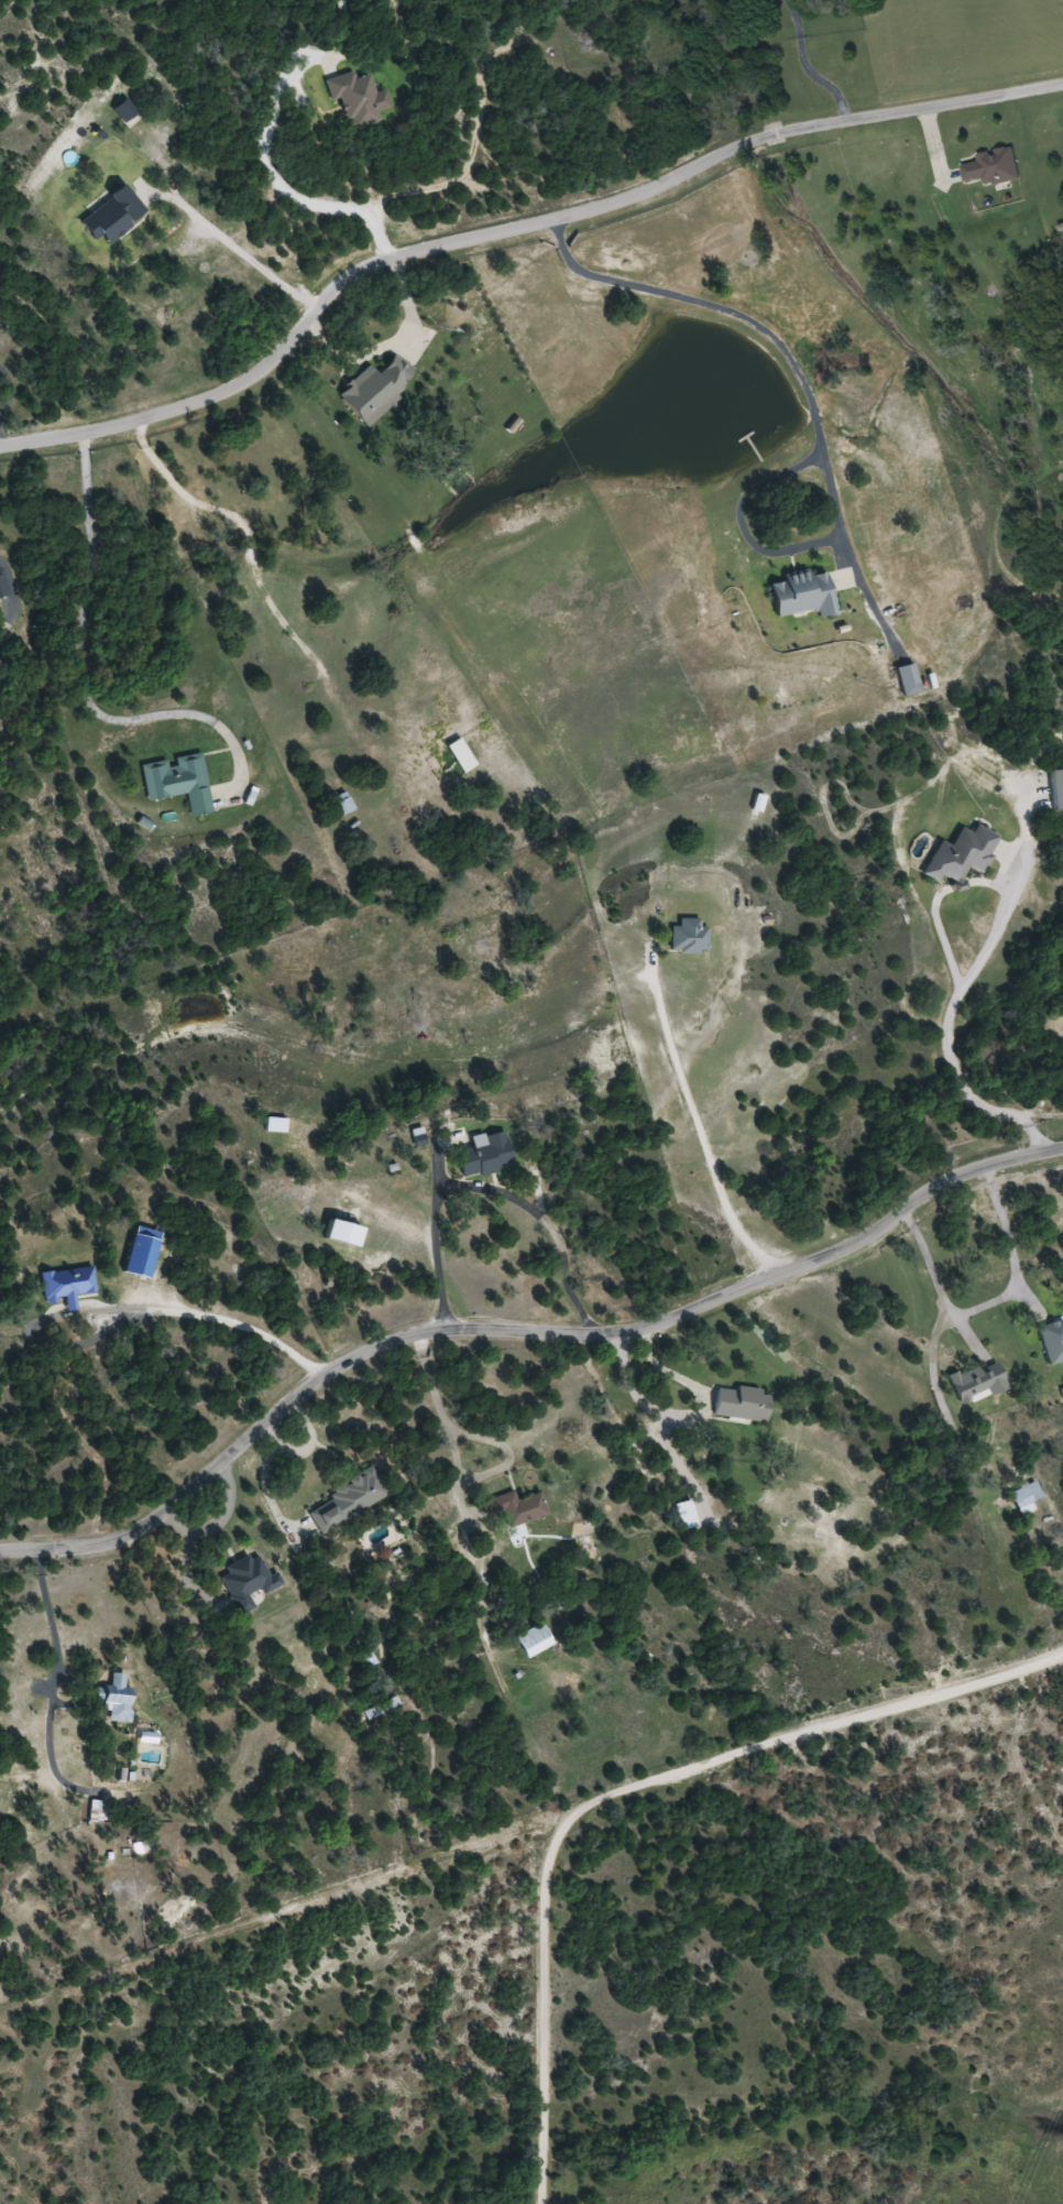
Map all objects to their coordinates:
road: (1024, 42)
building: (353, 98)
building: (123, 111)
building: (991, 167)
road: (285, 174)
building: (109, 216)
road: (512, 225)
road: (241, 240)
building: (374, 388)
road: (812, 412)
building: (2, 587)
building: (801, 593)
road: (89, 645)
building: (906, 678)
building: (177, 781)
building: (341, 803)
building: (687, 936)
road: (697, 1123)
building: (483, 1154)
road: (487, 1188)
building: (140, 1252)
building: (65, 1285)
road: (515, 1324)
building: (1052, 1340)
building: (976, 1382)
building: (739, 1404)
building: (1024, 1495)
building: (348, 1498)
building: (513, 1508)
building: (245, 1582)
road: (271, 1601)
building: (533, 1639)
building: (113, 1698)
road: (613, 1772)
building: (94, 1810)
road: (267, 1891)

